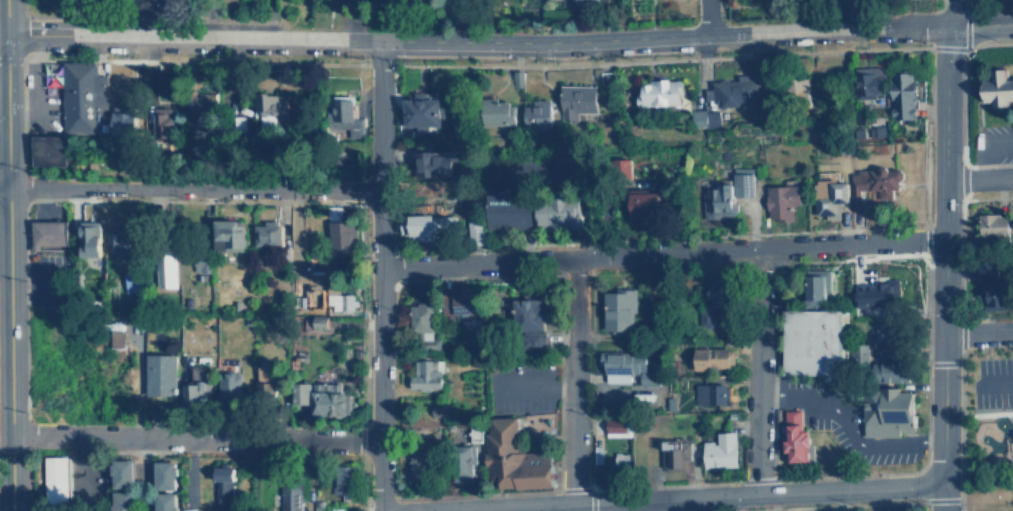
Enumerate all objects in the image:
parking lot: (157, 5)
park: (117, 7)
road: (703, 18)
road: (133, 19)
road: (173, 20)
road: (2, 25)
road: (980, 27)
road: (476, 42)
building: (869, 81)
building: (995, 87)
building: (733, 91)
building: (660, 93)
building: (904, 96)
building: (78, 98)
building: (204, 101)
building: (577, 101)
building: (271, 106)
building: (421, 111)
building: (497, 112)
building: (537, 115)
building: (344, 118)
building: (704, 118)
building: (161, 122)
road: (2, 124)
building: (123, 125)
building: (46, 151)
building: (436, 163)
road: (979, 179)
building: (874, 186)
road: (189, 188)
building: (826, 192)
building: (728, 194)
building: (780, 200)
building: (650, 201)
building: (508, 210)
building: (559, 213)
building: (431, 225)
building: (994, 225)
building: (47, 233)
building: (268, 234)
building: (230, 235)
building: (342, 235)
building: (91, 238)
road: (943, 242)
building: (121, 243)
road: (660, 253)
road: (6, 255)
building: (167, 268)
road: (377, 276)
building: (133, 280)
building: (813, 288)
building: (1000, 293)
building: (873, 294)
building: (339, 299)
building: (715, 306)
building: (620, 309)
building: (531, 320)
building: (421, 321)
building: (886, 330)
road: (978, 331)
building: (117, 337)
building: (809, 342)
building: (714, 357)
building: (628, 367)
road: (759, 370)
building: (162, 373)
building: (266, 374)
building: (426, 374)
road: (572, 381)
building: (231, 384)
building: (198, 385)
building: (301, 392)
building: (711, 393)
building: (331, 399)
building: (885, 411)
road: (978, 414)
building: (618, 427)
park: (988, 428)
building: (791, 435)
road: (193, 440)
building: (722, 450)
building: (518, 457)
building: (464, 459)
building: (676, 459)
building: (417, 464)
building: (123, 473)
building: (165, 474)
road: (140, 476)
building: (225, 477)
building: (57, 478)
building: (342, 483)
building: (291, 496)
road: (696, 497)
road: (943, 498)
building: (122, 501)
building: (165, 501)
road: (540, 508)

